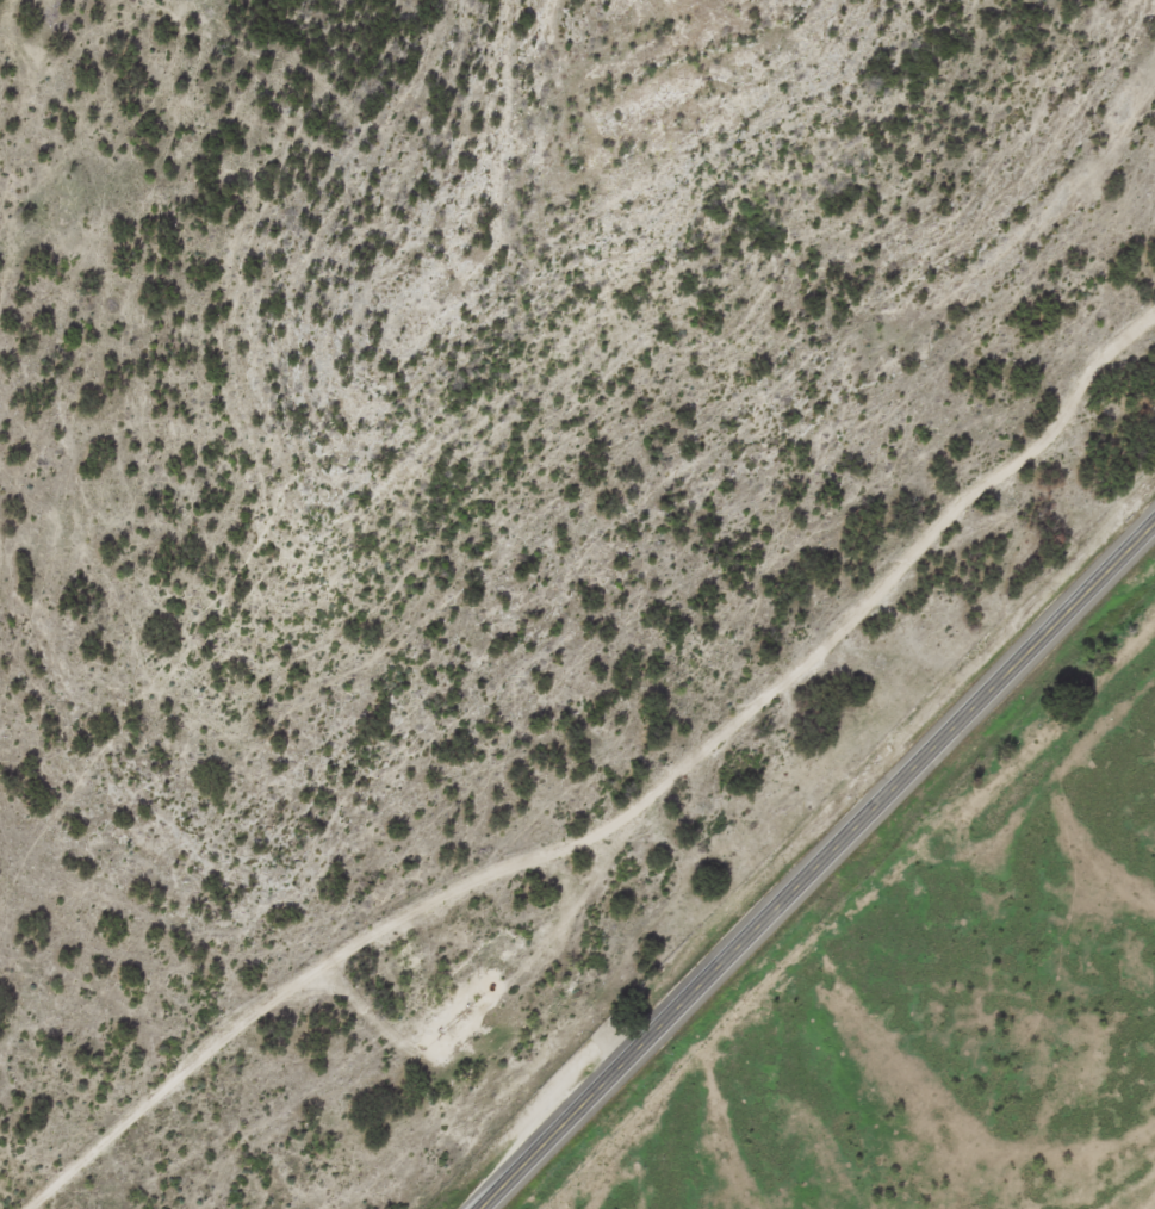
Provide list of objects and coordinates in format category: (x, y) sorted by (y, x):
road: (815, 863)

